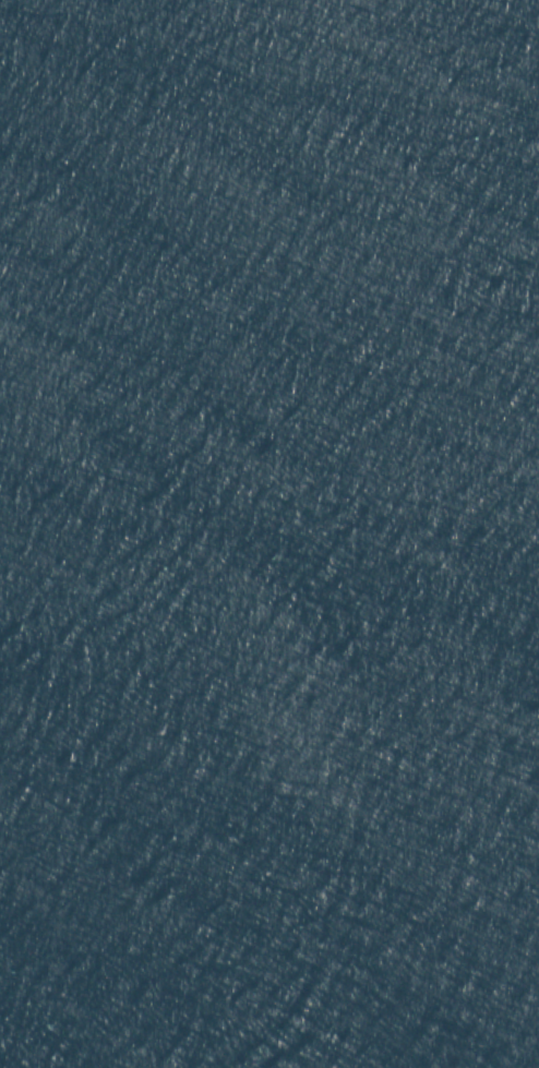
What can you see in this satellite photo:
river: (73, 970)

